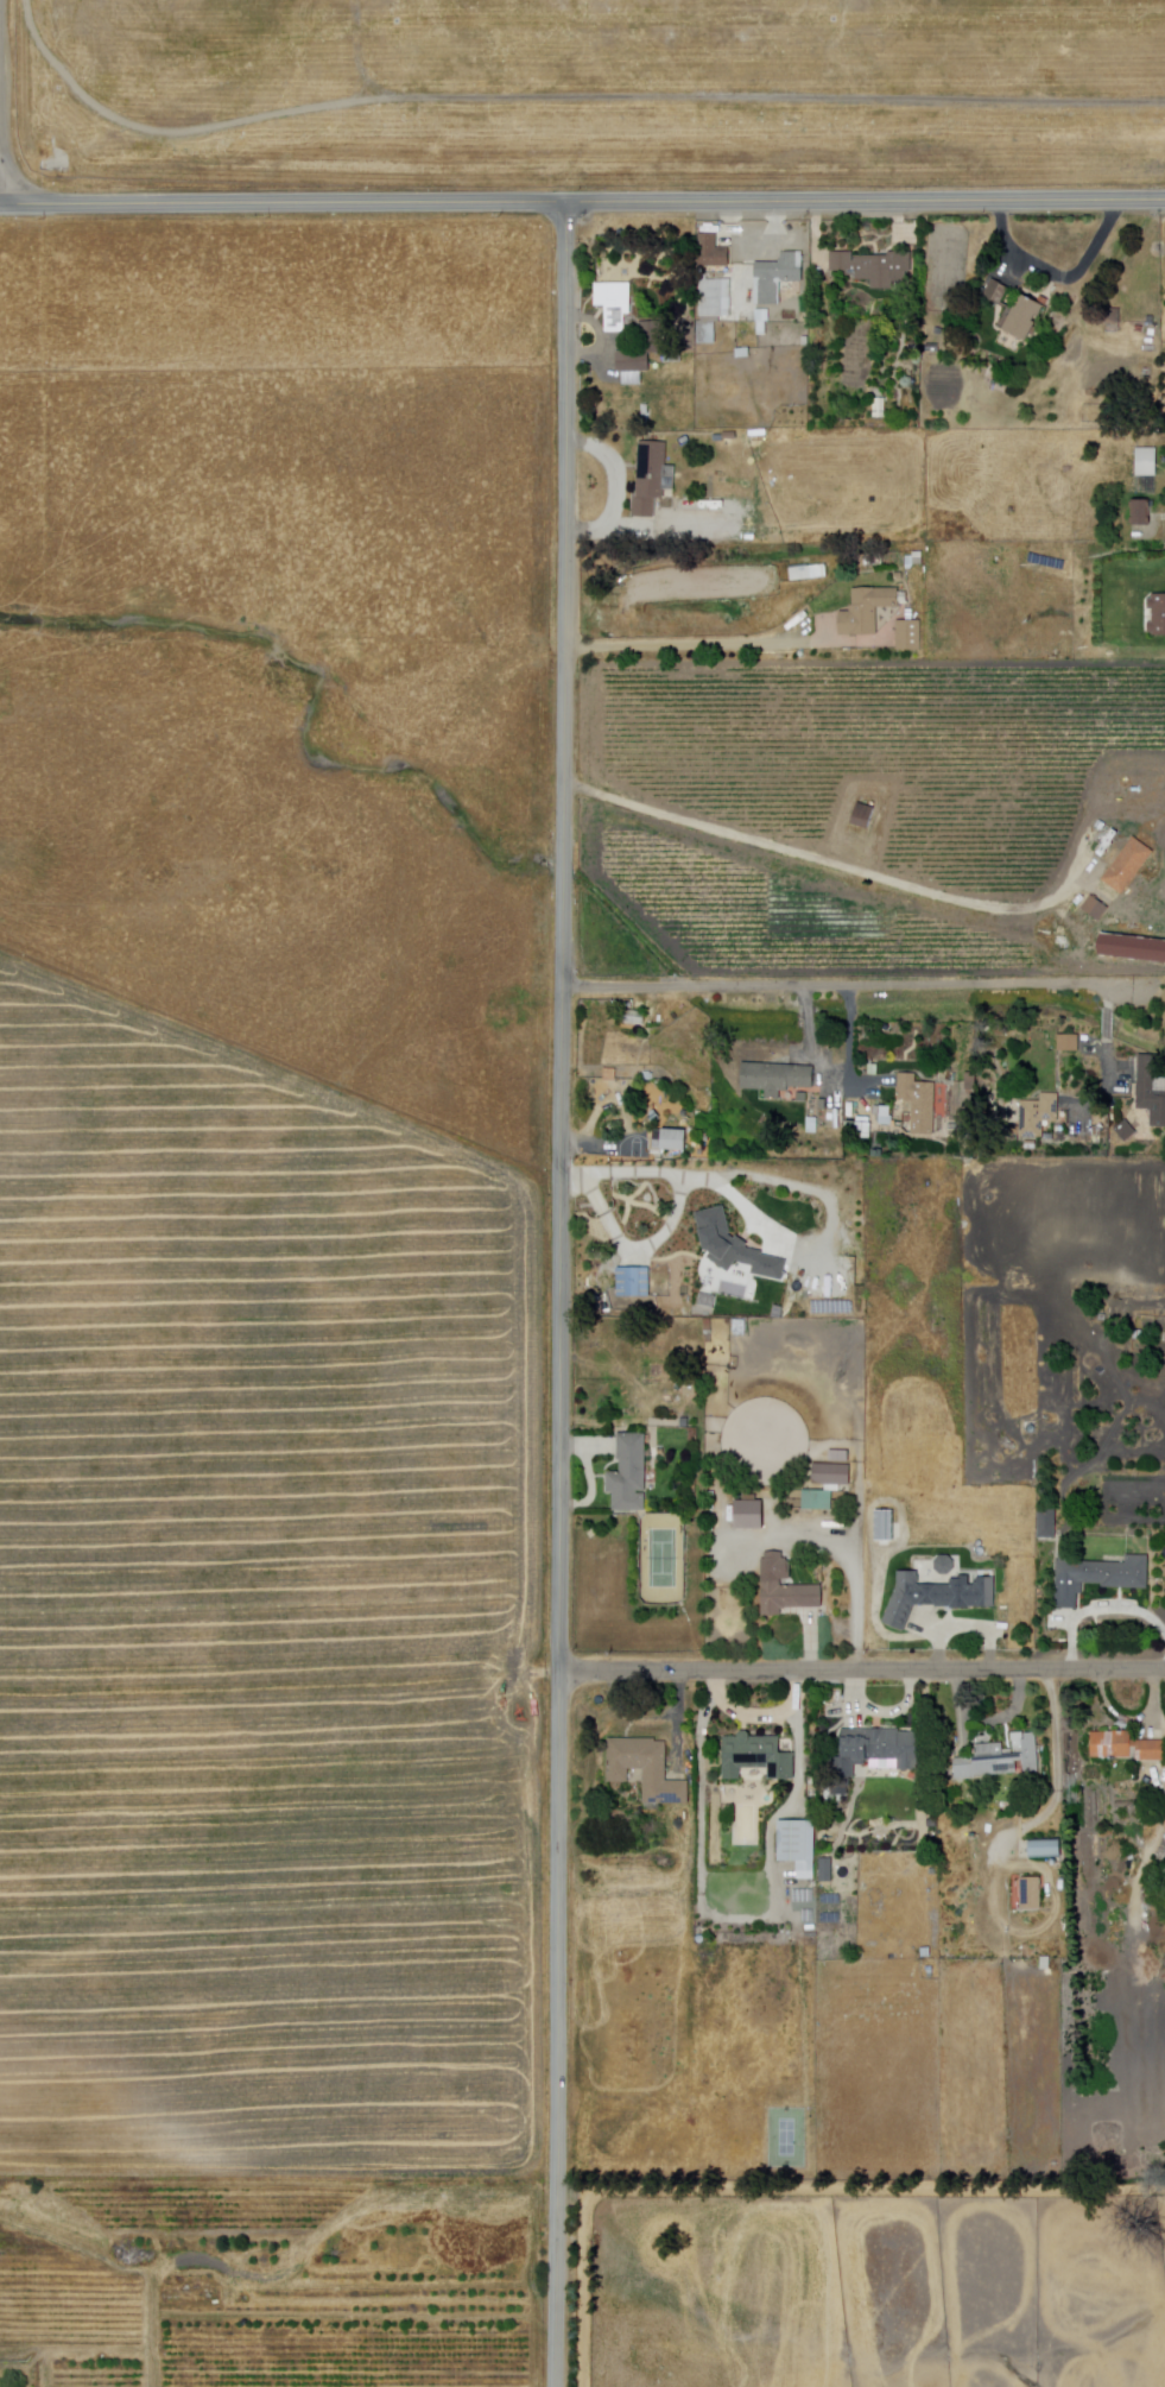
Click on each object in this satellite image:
airport: (593, 89)
road: (559, 93)
road: (582, 203)
building: (711, 252)
building: (872, 267)
building: (777, 276)
building: (710, 299)
building: (613, 302)
building: (1012, 311)
building: (1109, 321)
building: (703, 333)
building: (641, 349)
building: (875, 408)
building: (1145, 461)
building: (650, 478)
building: (1138, 512)
building: (917, 560)
building: (817, 570)
building: (867, 611)
building: (1158, 615)
building: (802, 623)
building: (818, 623)
building: (908, 636)
road: (694, 643)
building: (863, 815)
road: (822, 860)
building: (1127, 867)
building: (1096, 908)
building: (1131, 952)
road: (829, 983)
building: (632, 1017)
building: (1070, 1043)
building: (774, 1079)
building: (816, 1094)
building: (1150, 1094)
building: (963, 1097)
building: (919, 1103)
building: (815, 1112)
building: (1038, 1118)
building: (886, 1120)
building: (1127, 1128)
building: (862, 1131)
building: (665, 1144)
building: (848, 1198)
building: (854, 1214)
building: (733, 1243)
building: (633, 1283)
road: (559, 1294)
building: (818, 1295)
building: (627, 1476)
building: (832, 1476)
building: (818, 1501)
building: (944, 1515)
building: (752, 1517)
building: (885, 1524)
building: (1049, 1524)
park: (664, 1559)
park: (664, 1559)
building: (1101, 1578)
building: (937, 1597)
building: (792, 1598)
crop: (260, 1615)
road: (860, 1672)
building: (1126, 1747)
building: (873, 1751)
building: (755, 1757)
building: (993, 1758)
building: (644, 1768)
building: (1071, 1804)
building: (797, 1846)
building: (1040, 1850)
building: (825, 1870)
building: (1028, 1894)
park: (789, 2139)

